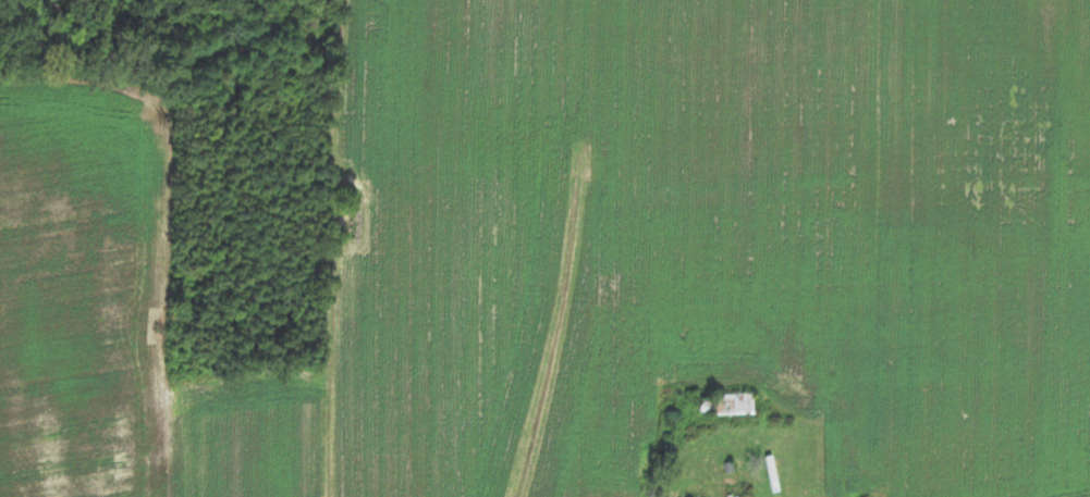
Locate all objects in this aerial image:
building: (727, 406)
building: (798, 494)

